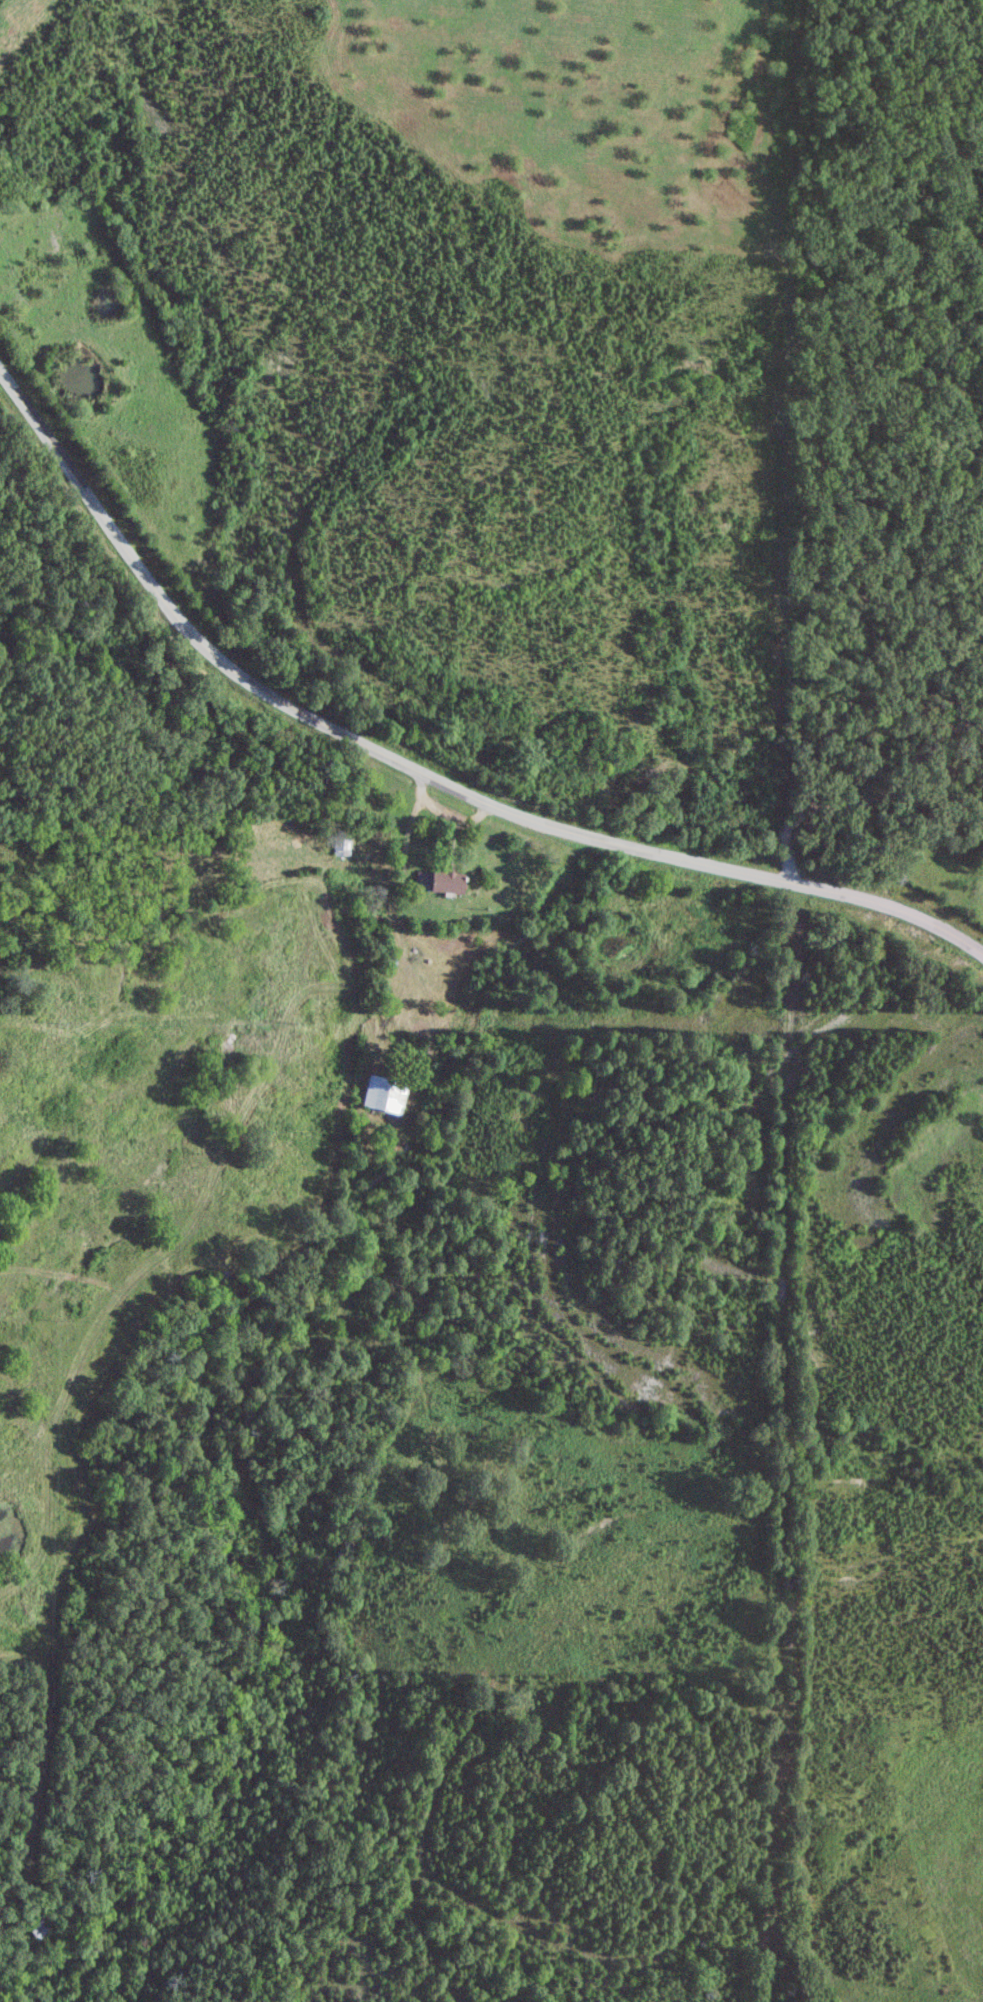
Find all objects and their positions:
road: (448, 797)
building: (438, 882)
building: (380, 1098)

